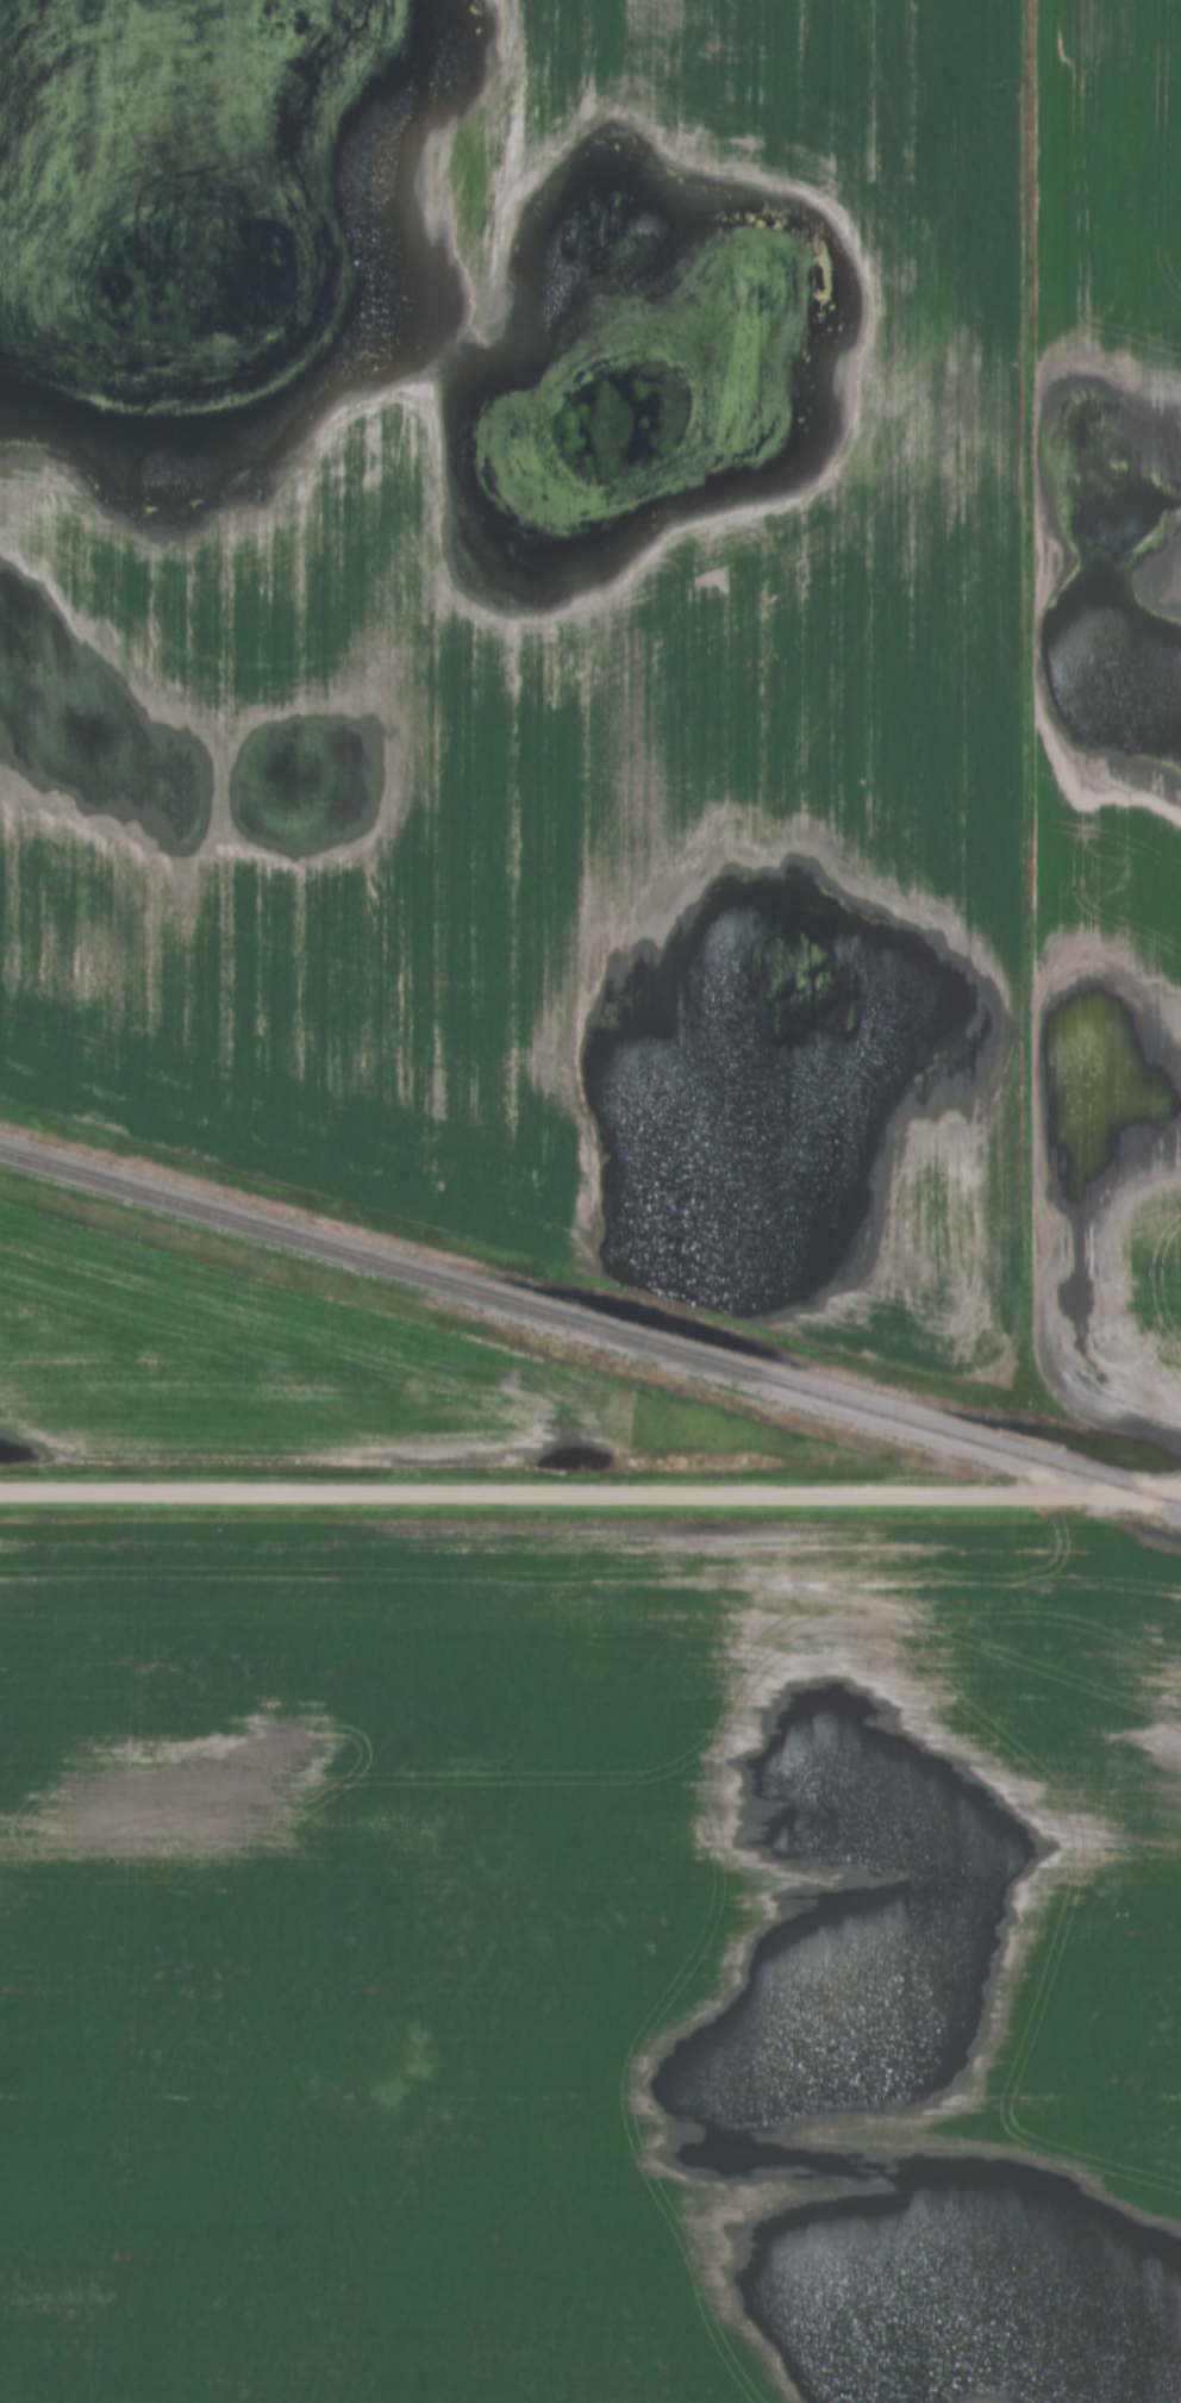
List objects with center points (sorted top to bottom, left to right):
crop: (532, 622)
railway: (589, 1329)
crop: (244, 1359)
road: (590, 1497)
crop: (590, 1959)

